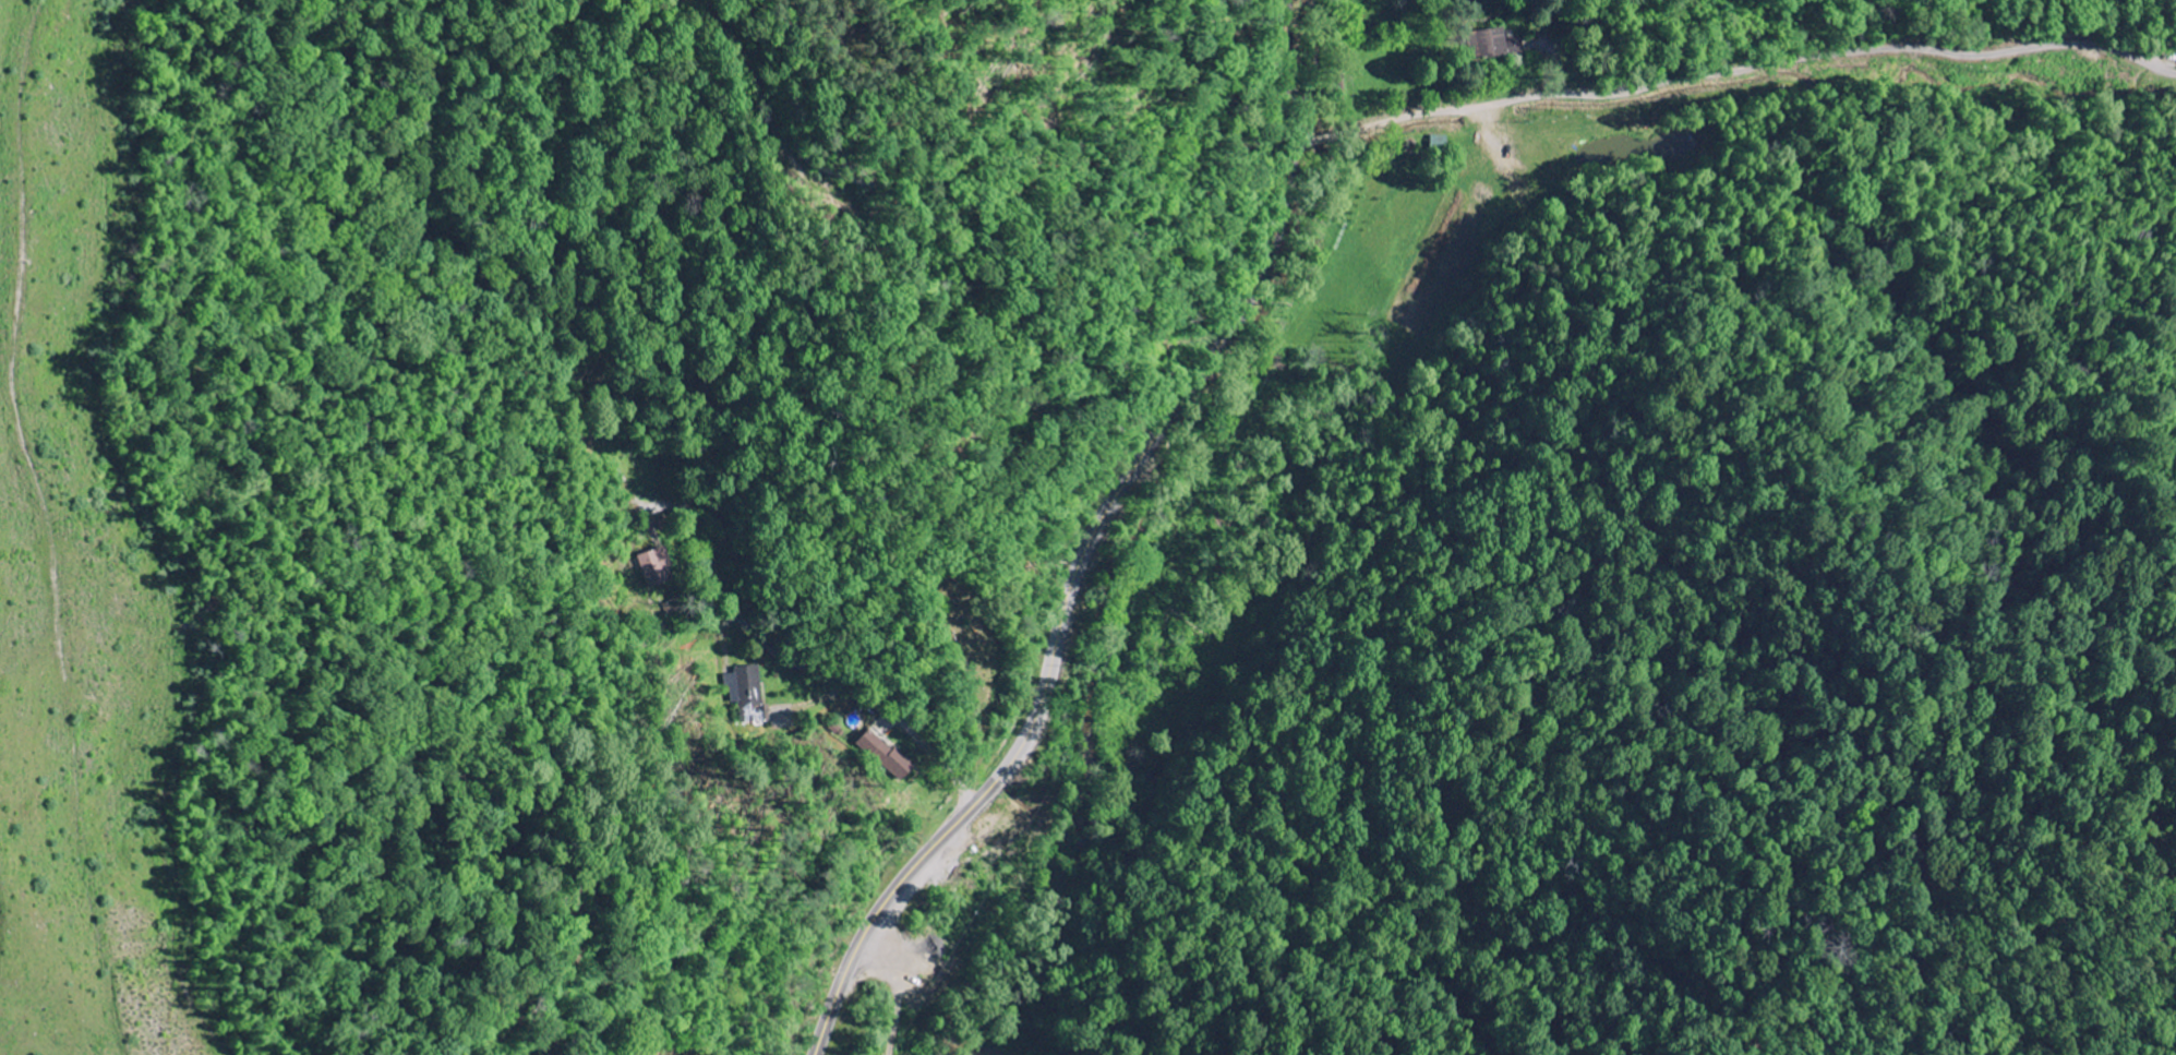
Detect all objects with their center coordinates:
building: (1500, 47)
road: (1731, 69)
road: (1094, 539)
building: (658, 570)
park: (959, 627)
building: (746, 691)
road: (863, 696)
building: (886, 755)

